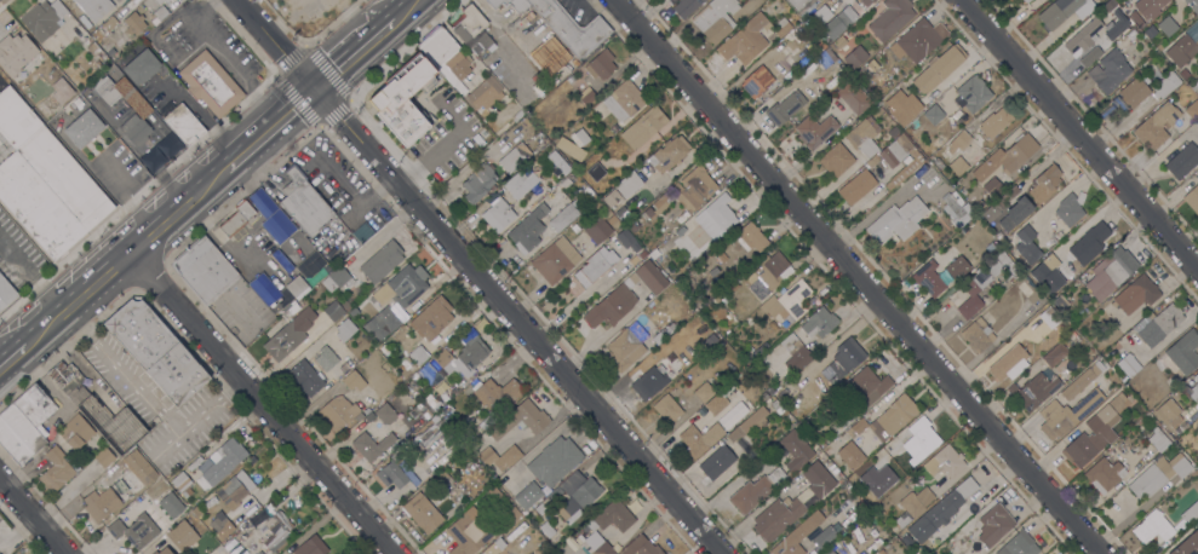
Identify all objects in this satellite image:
building: (1025, 0)
building: (159, 1)
building: (172, 2)
building: (866, 2)
building: (509, 4)
building: (801, 5)
building: (1192, 5)
building: (94, 7)
building: (686, 7)
building: (1148, 7)
road: (405, 8)
building: (1064, 11)
building: (160, 12)
building: (890, 18)
building: (44, 19)
building: (715, 19)
building: (842, 21)
building: (1137, 22)
building: (133, 23)
building: (107, 25)
building: (1168, 27)
building: (783, 28)
building: (1114, 28)
building: (471, 29)
building: (571, 29)
building: (1150, 31)
building: (1130, 34)
building: (1082, 39)
building: (744, 40)
building: (918, 40)
building: (792, 41)
building: (839, 42)
building: (92, 50)
building: (1182, 51)
building: (15, 53)
road: (355, 53)
road: (227, 57)
building: (854, 57)
building: (1090, 57)
building: (446, 58)
building: (824, 59)
building: (600, 64)
building: (872, 64)
building: (98, 67)
building: (141, 67)
building: (939, 69)
building: (1108, 71)
building: (1183, 74)
building: (69, 75)
building: (756, 81)
building: (1, 83)
building: (210, 83)
building: (1165, 85)
building: (1182, 87)
building: (483, 93)
building: (973, 93)
building: (1136, 94)
building: (586, 96)
building: (853, 97)
building: (623, 100)
building: (401, 102)
building: (901, 105)
building: (785, 108)
building: (1192, 110)
building: (143, 111)
building: (818, 112)
building: (933, 114)
road: (199, 115)
building: (16, 120)
building: (994, 122)
building: (184, 125)
building: (1197, 125)
building: (1156, 126)
building: (643, 127)
building: (84, 128)
road: (268, 128)
building: (814, 131)
building: (892, 132)
road: (1079, 133)
building: (864, 135)
building: (579, 137)
building: (959, 140)
building: (906, 144)
building: (4, 152)
building: (669, 154)
building: (892, 154)
building: (514, 157)
building: (1007, 157)
building: (835, 160)
building: (1182, 160)
building: (957, 166)
building: (562, 167)
building: (595, 172)
building: (477, 181)
building: (1044, 183)
building: (520, 184)
building: (627, 184)
railway: (210, 185)
building: (856, 186)
building: (992, 186)
building: (693, 187)
building: (50, 194)
building: (611, 198)
building: (1192, 198)
building: (303, 201)
building: (663, 202)
building: (956, 208)
building: (994, 209)
building: (1068, 209)
building: (648, 212)
building: (498, 215)
building: (625, 215)
building: (271, 217)
building: (716, 217)
building: (1015, 217)
building: (563, 218)
building: (237, 219)
building: (611, 219)
building: (898, 220)
building: (632, 225)
building: (574, 227)
building: (528, 229)
building: (597, 230)
building: (680, 230)
building: (1057, 235)
building: (752, 236)
building: (626, 240)
building: (1089, 242)
building: (346, 243)
building: (1026, 244)
road: (110, 249)
building: (722, 256)
building: (555, 260)
building: (382, 261)
building: (1049, 262)
building: (595, 265)
road: (126, 267)
building: (957, 267)
building: (205, 270)
building: (1108, 272)
building: (767, 273)
road: (480, 276)
building: (339, 277)
building: (650, 277)
road: (855, 277)
building: (929, 278)
building: (985, 279)
building: (296, 285)
building: (402, 285)
building: (6, 293)
building: (1135, 294)
building: (721, 295)
building: (787, 302)
building: (1060, 302)
building: (611, 306)
building: (292, 308)
building: (333, 311)
building: (1049, 316)
building: (432, 317)
building: (386, 321)
building: (819, 323)
building: (1157, 324)
building: (344, 329)
building: (290, 334)
building: (661, 334)
building: (978, 334)
building: (625, 350)
building: (796, 350)
building: (1183, 351)
building: (156, 352)
building: (848, 353)
building: (418, 354)
building: (470, 354)
building: (746, 354)
building: (1055, 354)
road: (8, 357)
building: (442, 357)
building: (325, 358)
building: (1009, 363)
building: (1128, 364)
building: (363, 370)
building: (653, 376)
building: (305, 377)
building: (431, 377)
building: (389, 380)
building: (68, 381)
building: (1079, 381)
building: (866, 386)
building: (1038, 388)
building: (1191, 388)
building: (706, 389)
building: (497, 393)
road: (257, 397)
building: (717, 402)
building: (1119, 402)
building: (775, 404)
road: (151, 409)
building: (666, 409)
building: (337, 411)
building: (1169, 412)
building: (385, 414)
building: (1066, 414)
building: (887, 419)
building: (521, 420)
building: (1197, 420)
building: (804, 422)
building: (24, 423)
building: (749, 423)
building: (1197, 423)
building: (75, 432)
building: (423, 435)
building: (1091, 437)
building: (699, 438)
building: (918, 439)
building: (1158, 439)
building: (371, 445)
building: (1191, 446)
road: (164, 448)
building: (792, 450)
building: (850, 455)
building: (103, 457)
building: (499, 457)
building: (554, 461)
building: (717, 461)
building: (944, 462)
building: (220, 463)
building: (56, 469)
building: (391, 473)
building: (1104, 474)
building: (1158, 474)
building: (776, 475)
building: (818, 479)
building: (182, 483)
building: (864, 483)
building: (120, 486)
building: (493, 494)
building: (750, 494)
building: (528, 495)
building: (577, 495)
building: (228, 501)
building: (171, 504)
building: (543, 504)
building: (912, 506)
building: (941, 510)
building: (422, 512)
building: (1190, 512)
building: (511, 515)
building: (613, 515)
building: (776, 518)
road: (29, 519)
building: (993, 524)
building: (1152, 526)
building: (138, 527)
building: (274, 527)
building: (470, 530)
building: (548, 530)
building: (517, 531)
building: (182, 536)
building: (797, 536)
building: (824, 536)
building: (596, 541)
building: (1019, 544)
building: (1187, 544)
building: (233, 547)
building: (310, 547)
building: (641, 547)
building: (264, 549)
building: (491, 549)
building: (165, 550)
building: (829, 552)
building: (154, 553)

